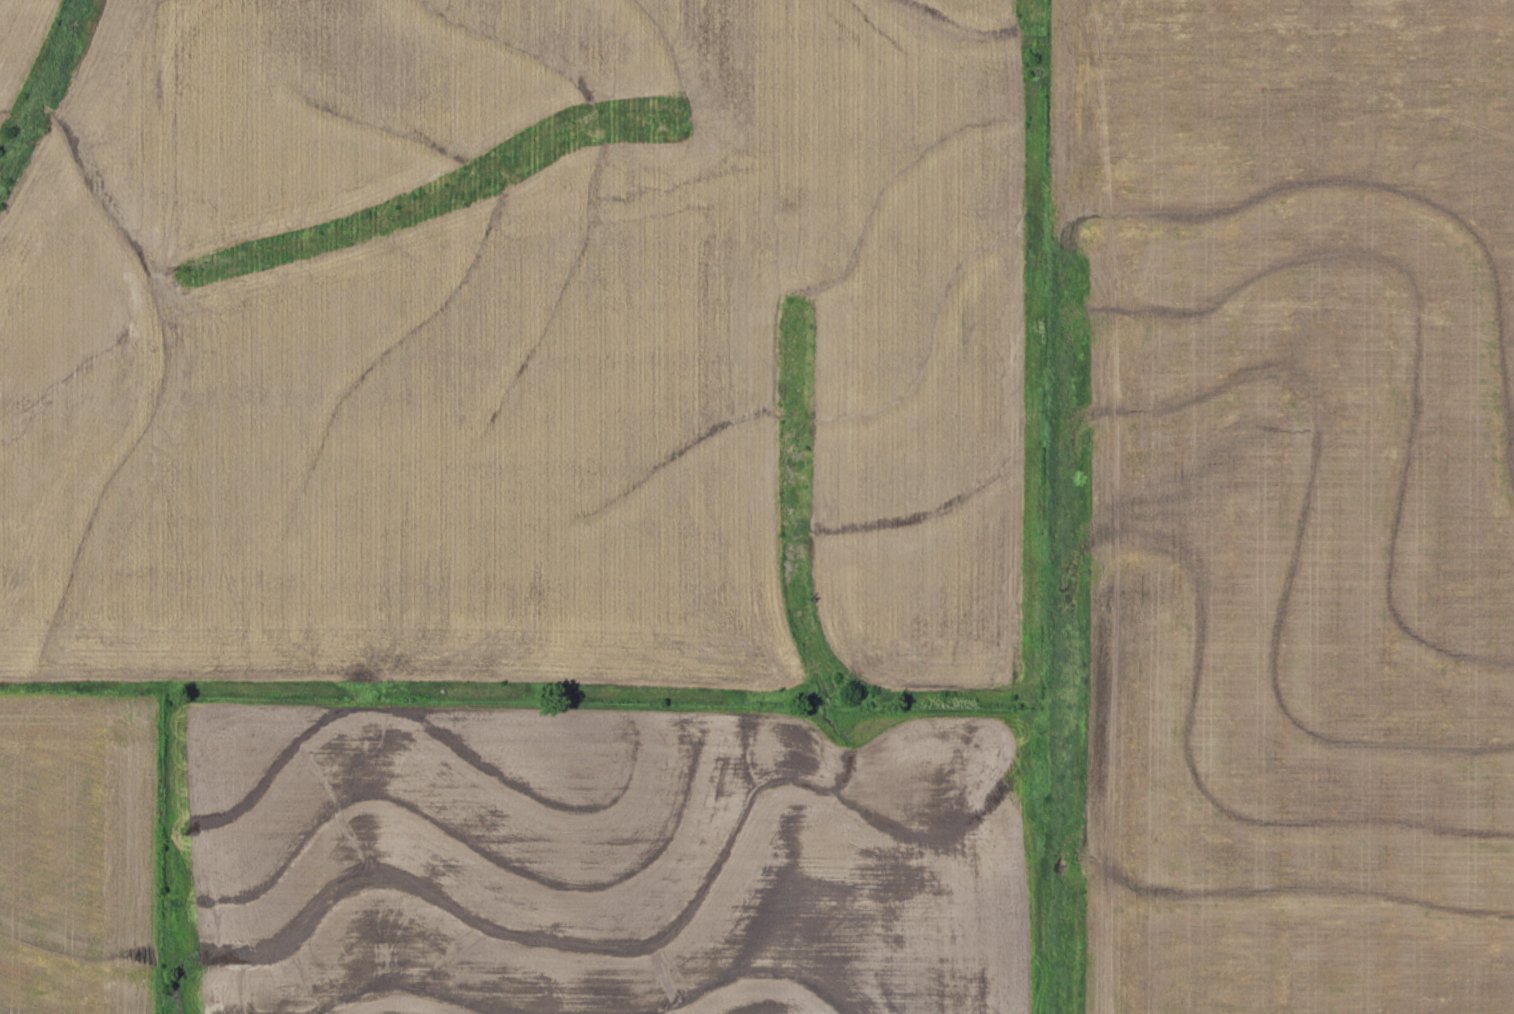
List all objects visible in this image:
crop: (1295, 500)

